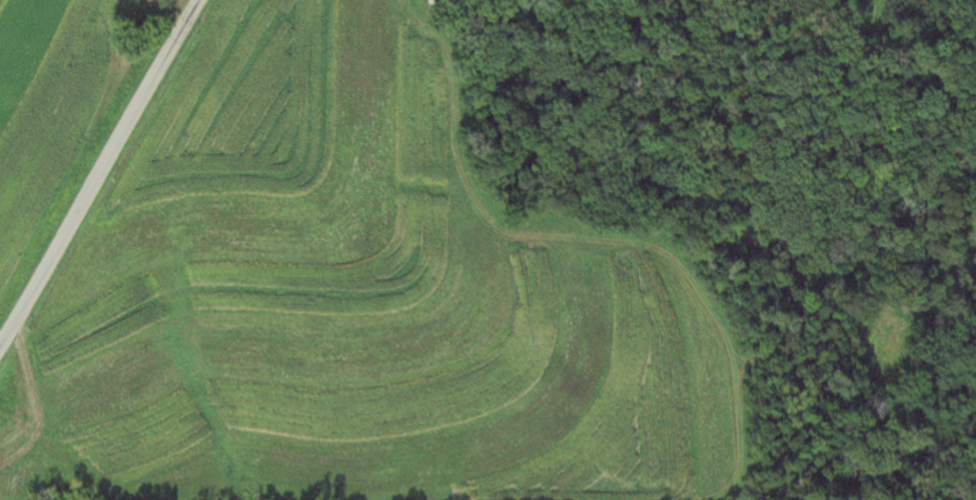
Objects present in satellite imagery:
road: (102, 176)

